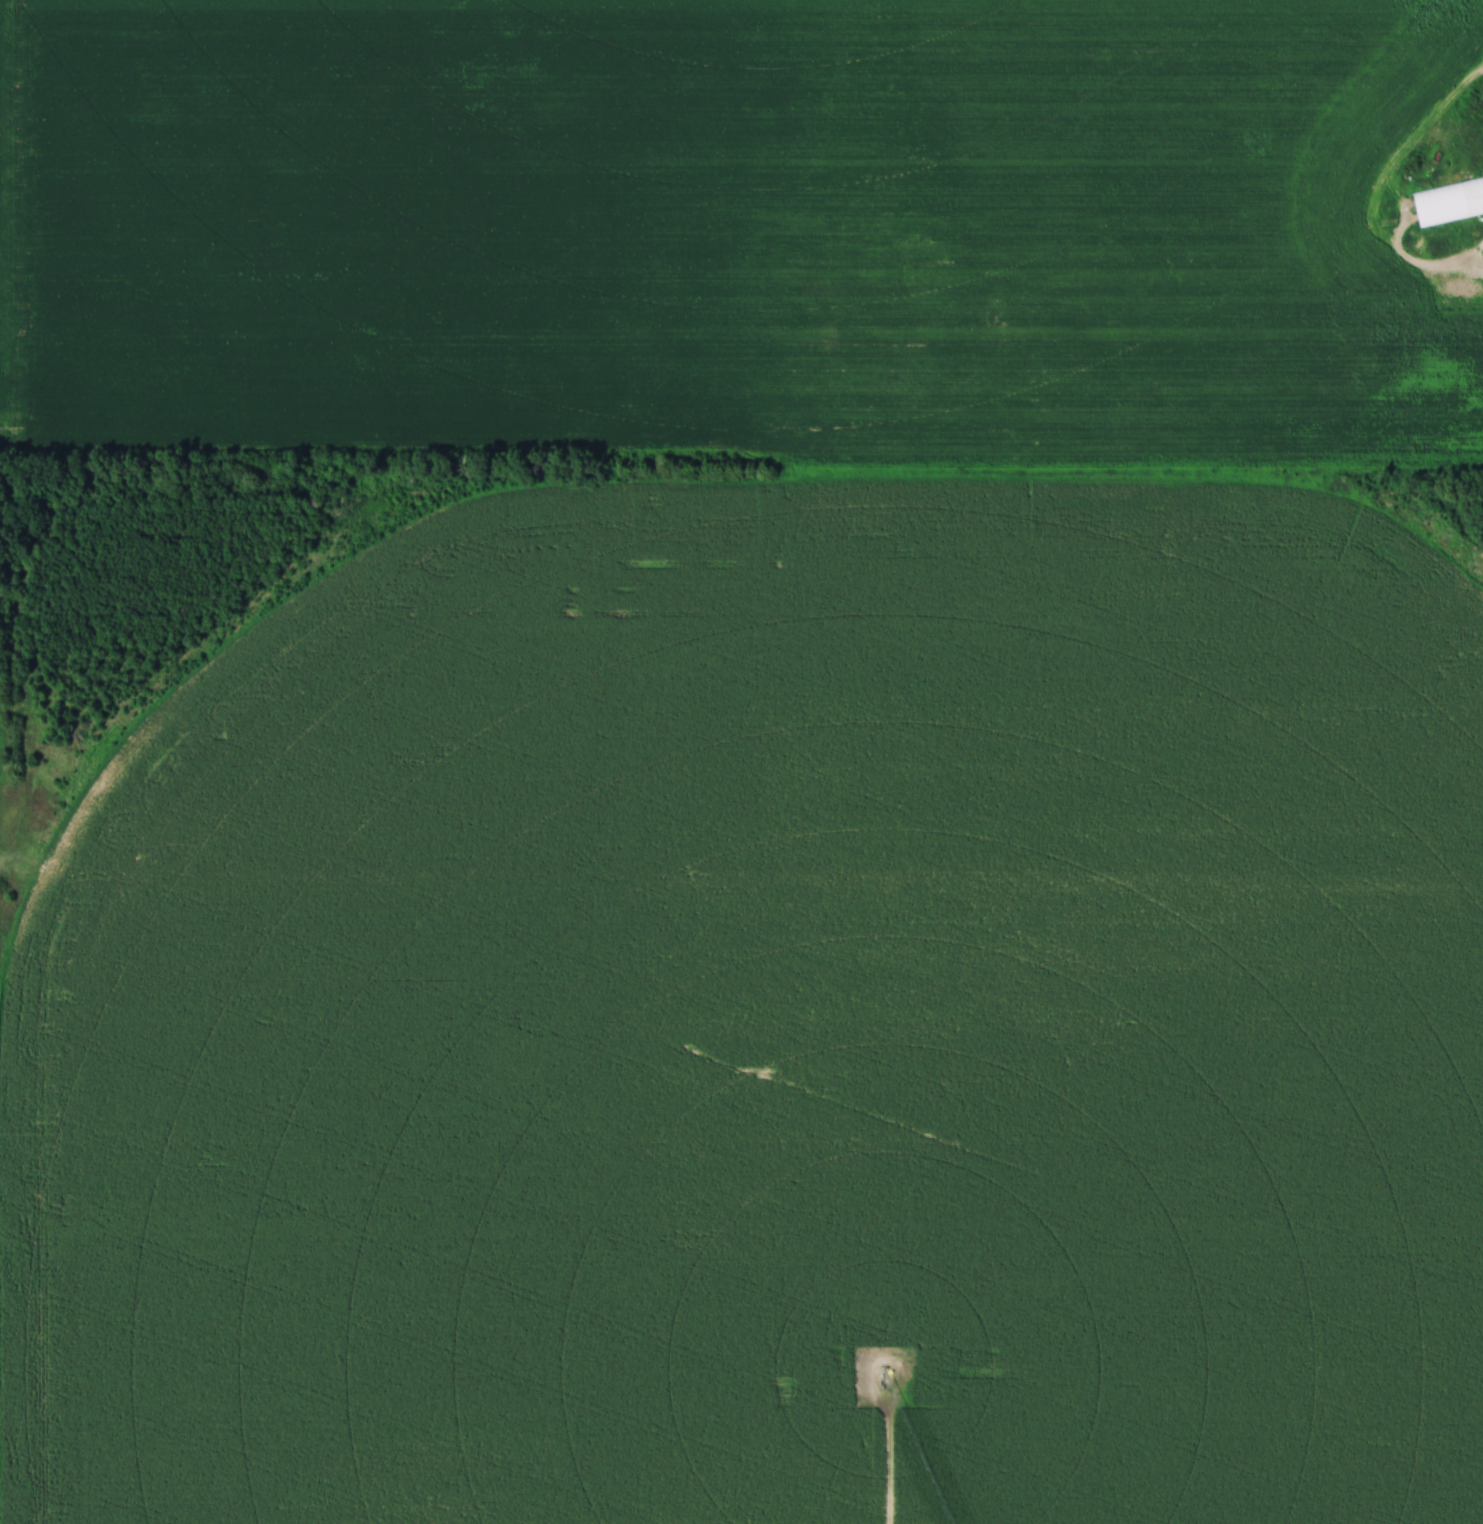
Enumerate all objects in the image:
building: (1450, 203)

